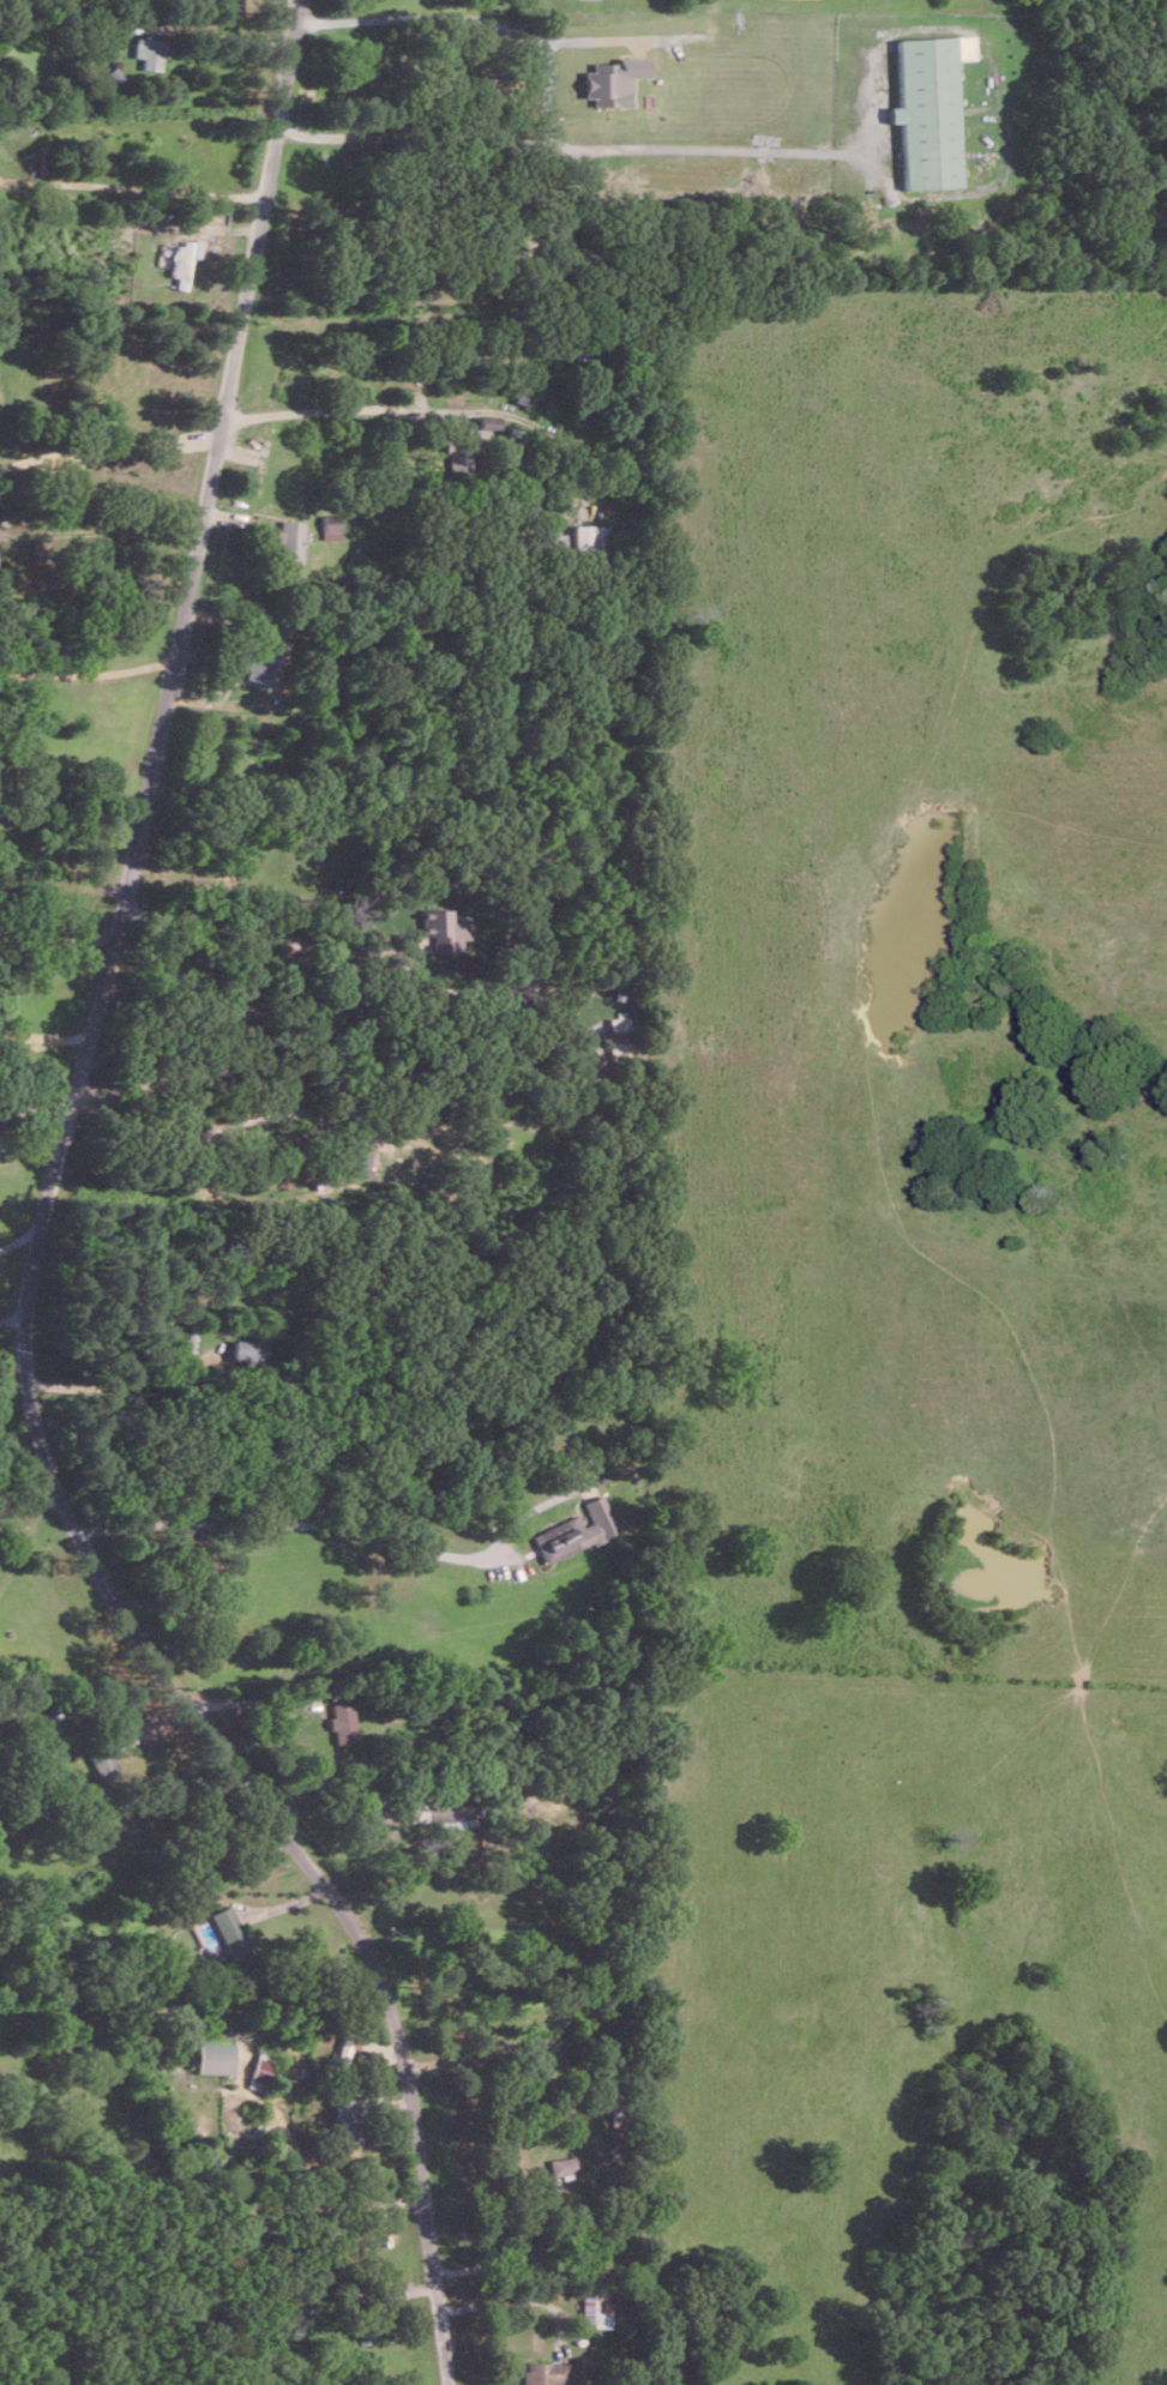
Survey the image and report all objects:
road: (471, 16)
road: (227, 36)
building: (148, 50)
building: (613, 80)
building: (928, 108)
road: (566, 146)
road: (130, 187)
building: (184, 259)
road: (338, 408)
road: (106, 445)
building: (327, 526)
building: (589, 538)
building: (287, 540)
building: (551, 540)
building: (263, 663)
road: (89, 673)
road: (62, 883)
building: (445, 928)
road: (56, 930)
road: (44, 1030)
building: (618, 1032)
road: (158, 1082)
road: (207, 1127)
building: (357, 1155)
road: (40, 1235)
road: (19, 1240)
building: (246, 1349)
road: (112, 1380)
road: (284, 1522)
building: (575, 1530)
building: (342, 1720)
building: (103, 1764)
building: (415, 1811)
building: (231, 1934)
building: (536, 2052)
building: (342, 2053)
building: (213, 2055)
building: (260, 2071)
building: (345, 2118)
building: (561, 2163)
road: (510, 2250)
road: (517, 2295)
building: (595, 2306)
building: (362, 2332)
building: (542, 2372)

